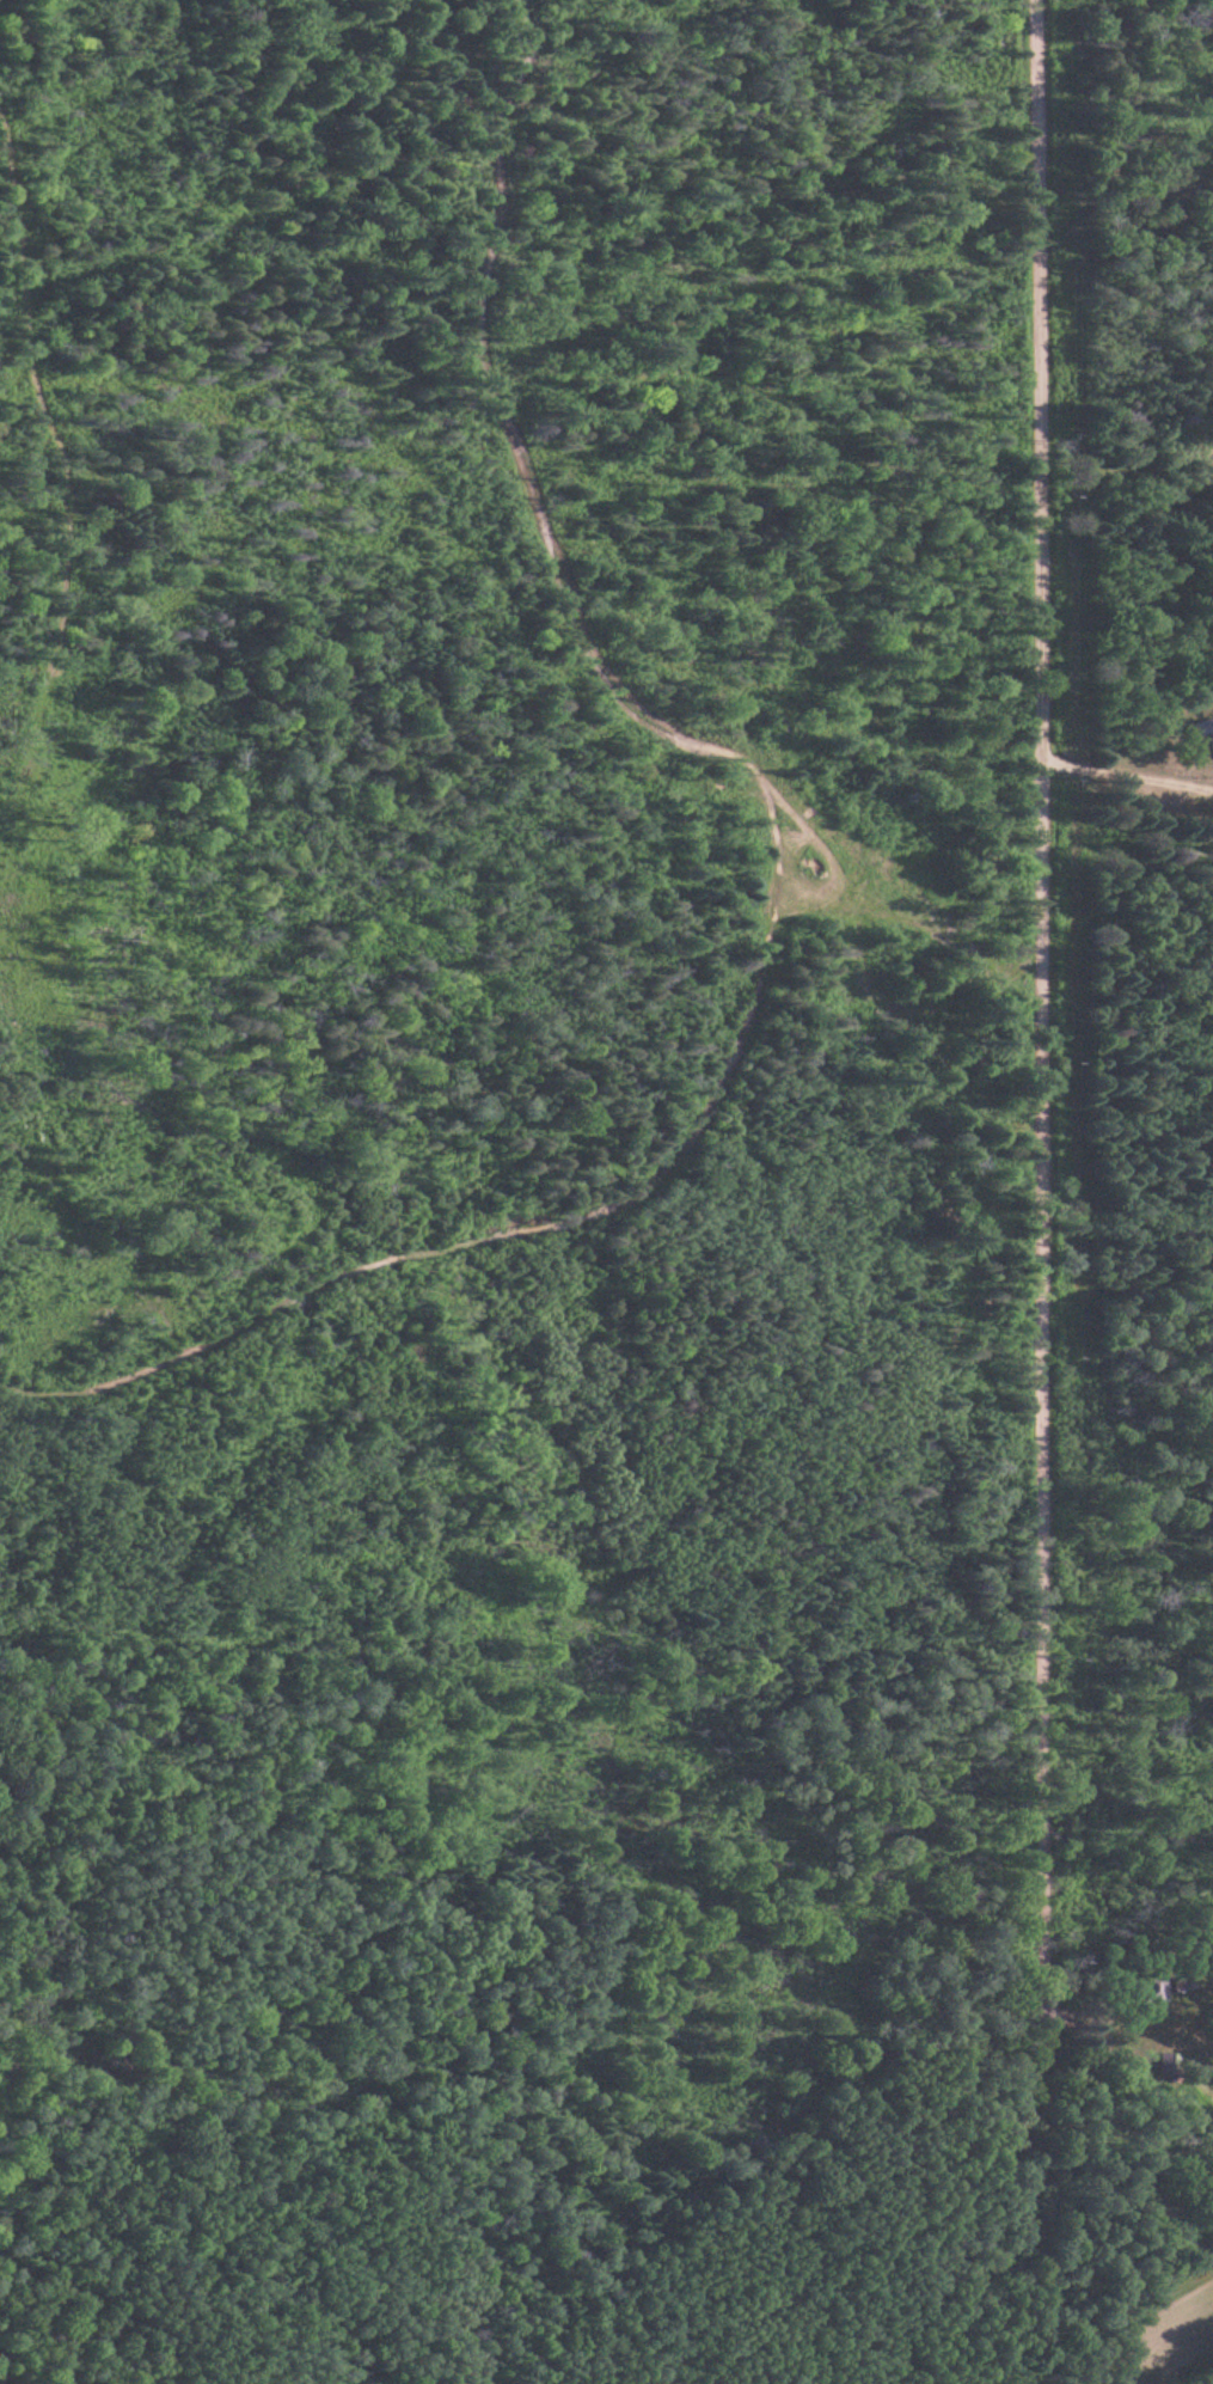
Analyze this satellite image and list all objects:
building: (1206, 729)
road: (1048, 1007)
building: (1154, 1988)
road: (1090, 2016)
building: (1171, 2066)

